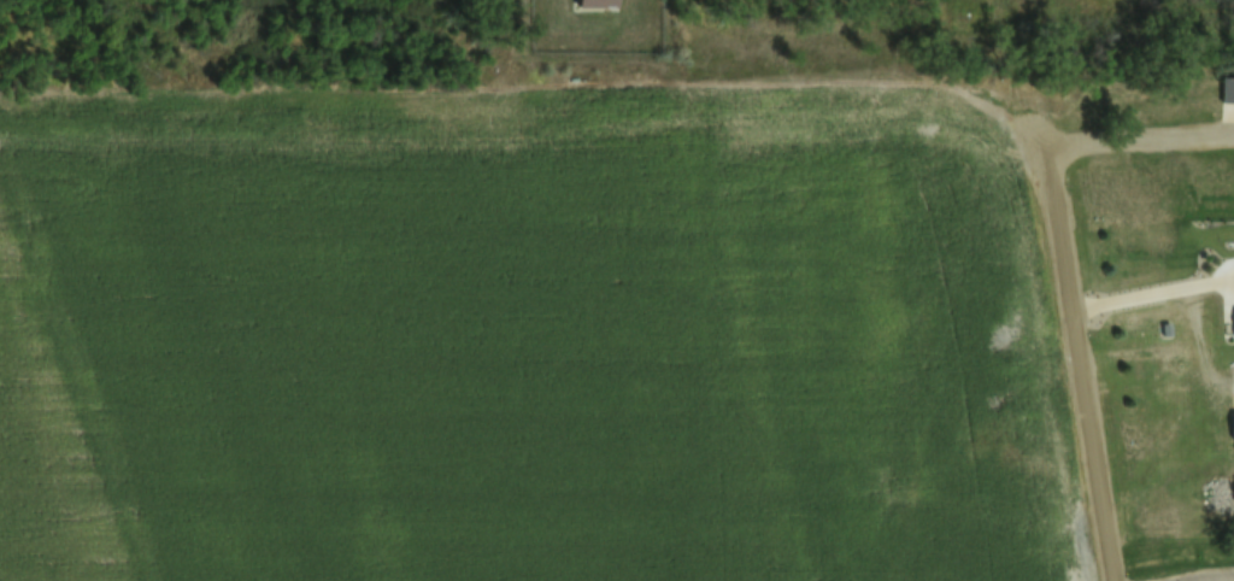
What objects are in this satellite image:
building: (590, 4)
building: (1229, 92)
building: (1233, 324)
road: (1081, 363)
building: (1232, 427)

